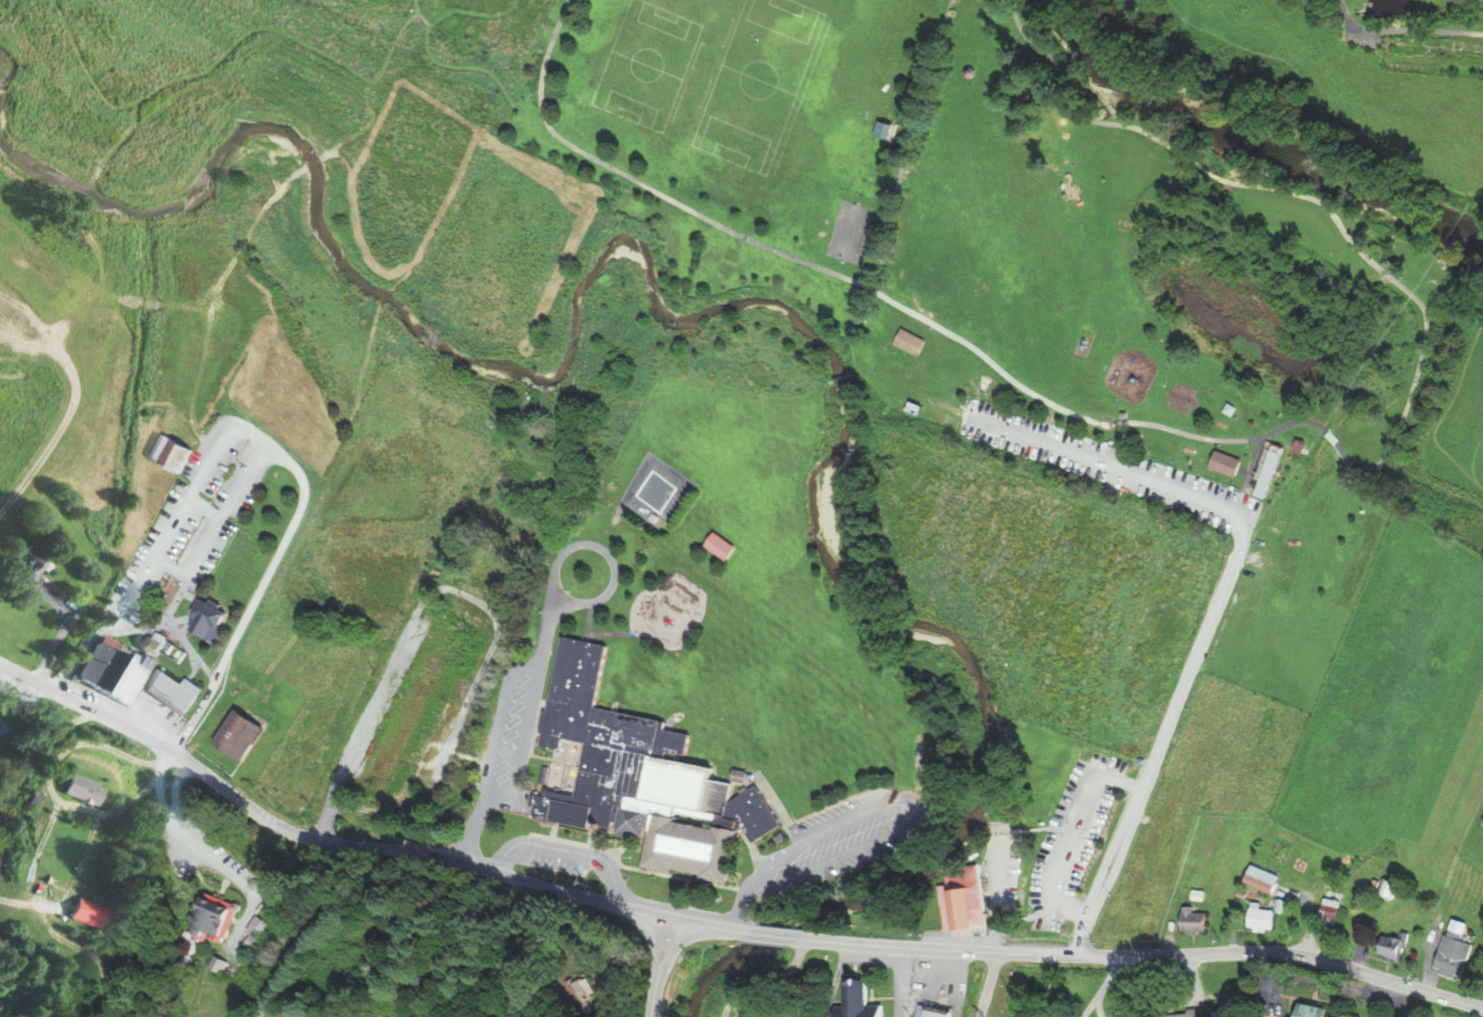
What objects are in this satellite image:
road: (476, 5)
road: (1403, 30)
parking lot: (1359, 36)
road: (381, 53)
road: (491, 63)
road: (173, 71)
building: (966, 72)
road: (1083, 116)
building: (896, 129)
building: (879, 130)
road: (892, 131)
building: (979, 131)
road: (907, 141)
river: (1236, 141)
road: (1215, 176)
road: (643, 181)
park: (848, 232)
river: (1471, 234)
park: (1011, 264)
building: (907, 342)
building: (918, 342)
road: (839, 377)
road: (913, 389)
building: (912, 408)
building: (1227, 409)
road: (1316, 424)
road: (265, 443)
building: (1297, 443)
road: (1120, 444)
building: (174, 454)
building: (1223, 463)
parking lot: (1109, 466)
building: (1265, 474)
building: (725, 547)
building: (32, 561)
road: (1214, 605)
building: (209, 621)
building: (99, 661)
building: (133, 674)
road: (6, 679)
building: (174, 692)
building: (415, 701)
building: (239, 734)
road: (42, 745)
building: (642, 779)
road: (49, 780)
building: (88, 791)
road: (166, 811)
building: (1482, 828)
road: (316, 841)
building: (1296, 873)
building: (1260, 880)
road: (12, 902)
building: (964, 902)
building: (1329, 912)
building: (93, 915)
building: (1259, 920)
building: (213, 922)
building: (1192, 922)
road: (710, 926)
building: (249, 932)
road: (772, 935)
building: (1386, 948)
road: (1143, 955)
building: (1447, 955)
road: (659, 967)
road: (987, 984)
road: (1105, 986)
building: (856, 998)
building: (770, 1010)
building: (1311, 1010)
road: (1088, 1011)
building: (932, 1012)
building: (1217, 1014)

